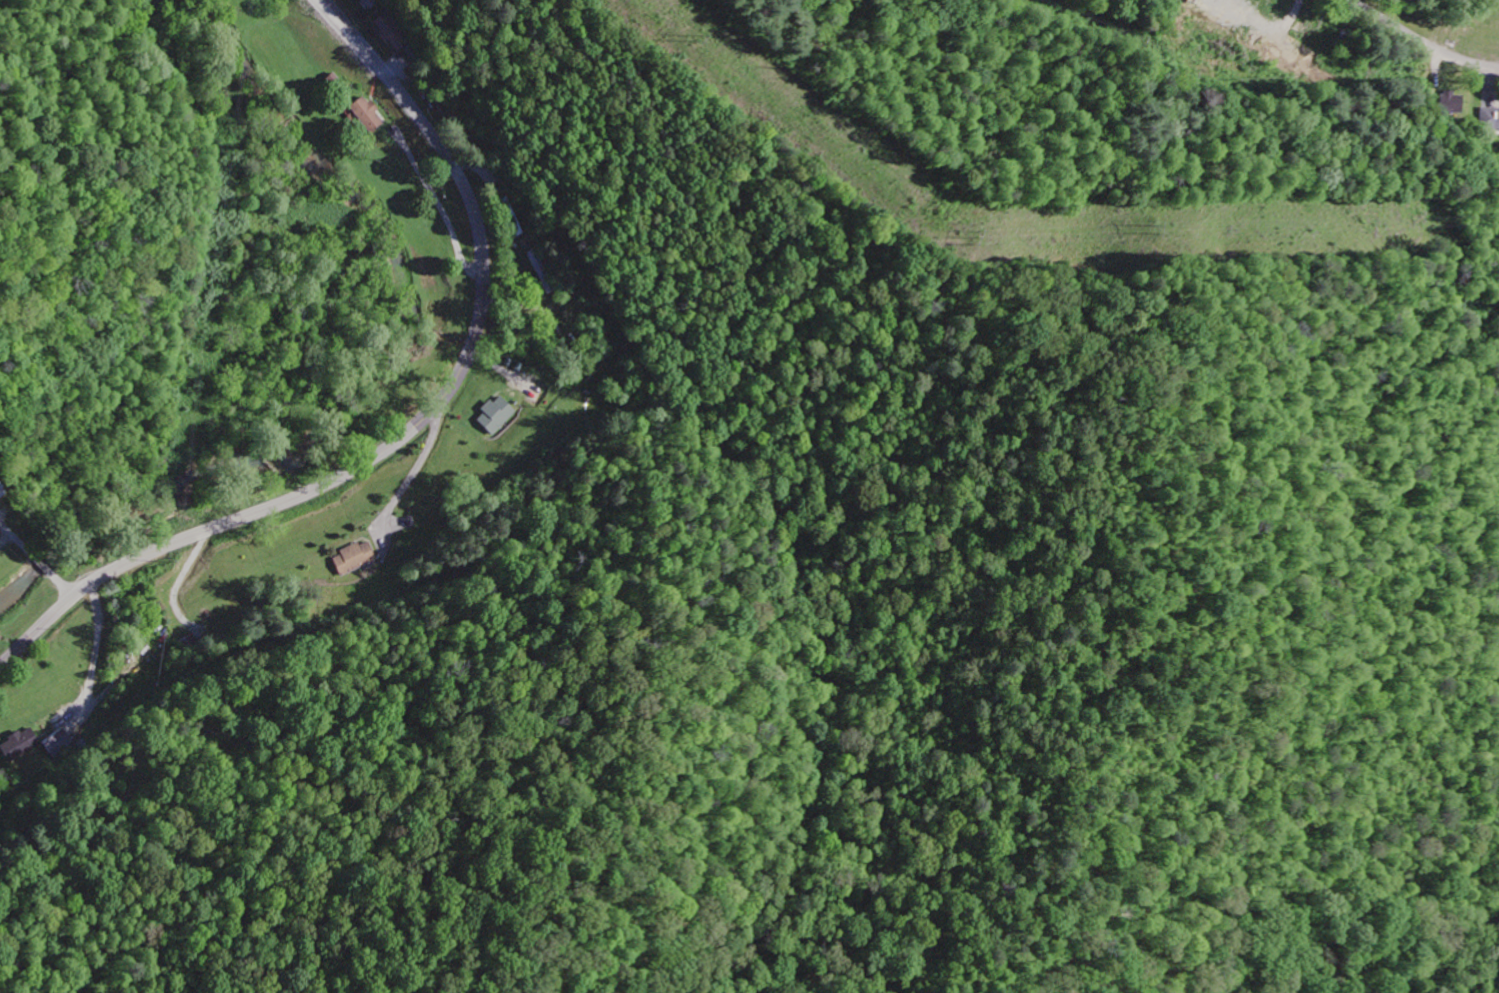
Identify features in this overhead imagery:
building: (1192, 0)
building: (394, 34)
road: (1420, 40)
building: (368, 116)
building: (495, 416)
road: (418, 422)
road: (39, 559)
building: (352, 559)
building: (57, 744)
building: (18, 746)

